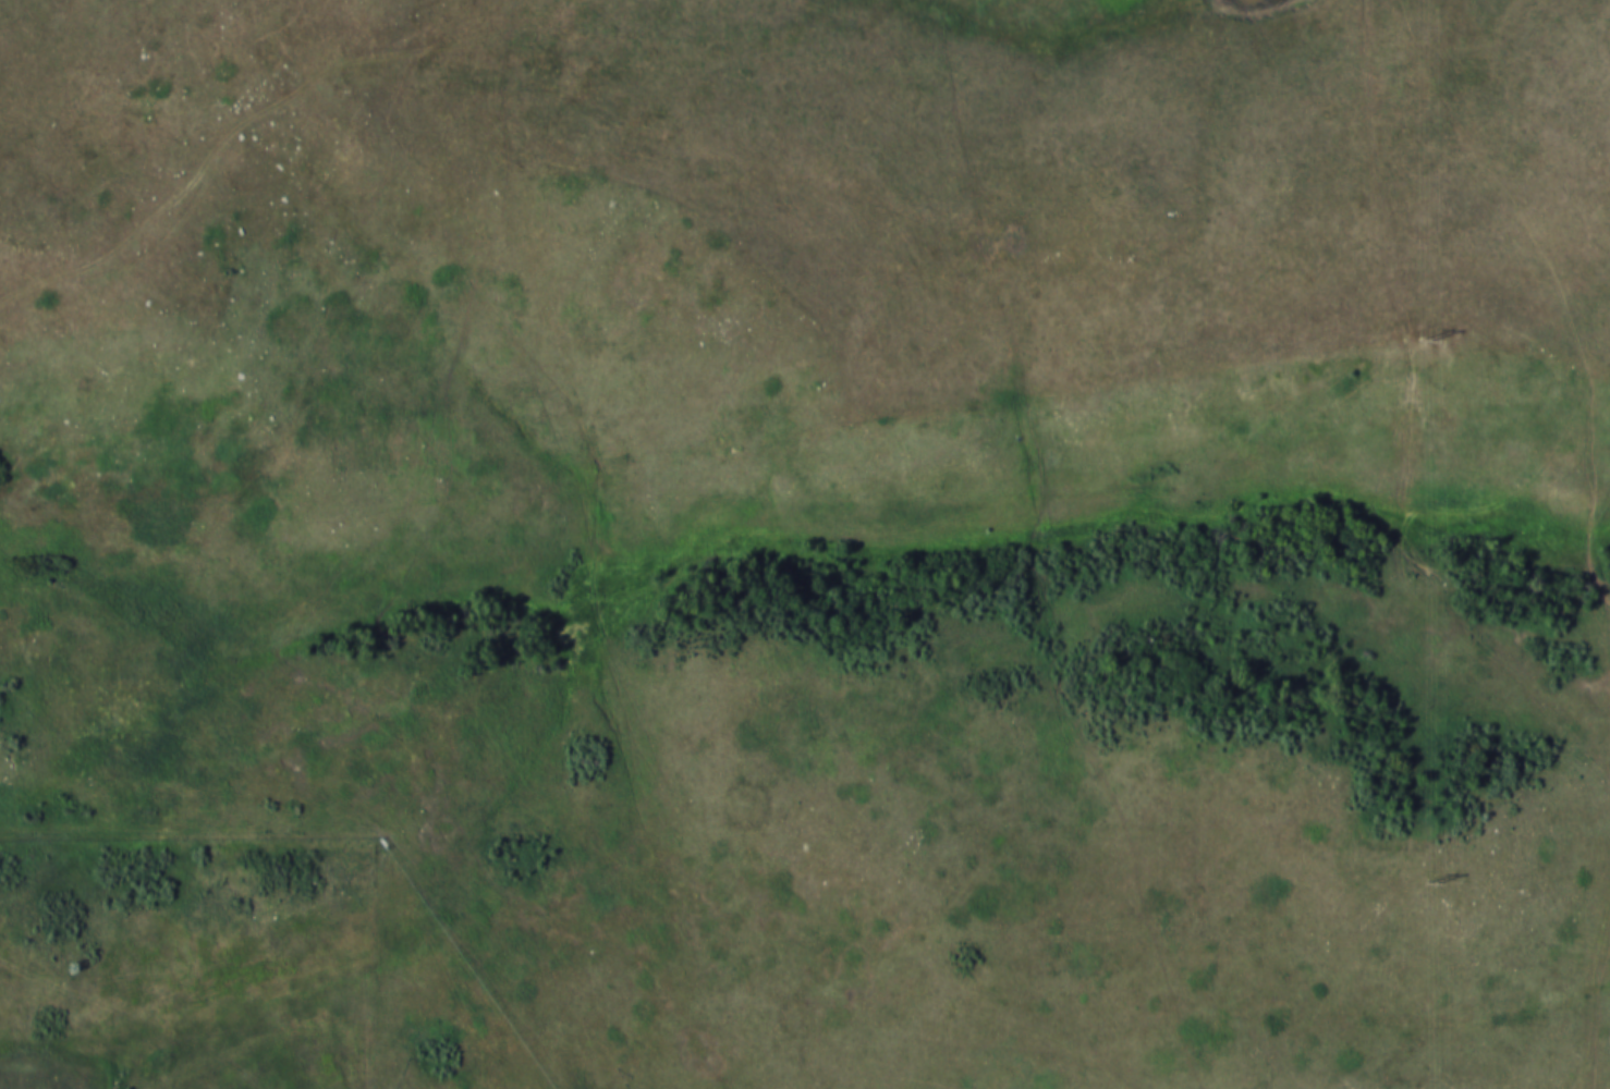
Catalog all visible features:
power tower: (1436, 342)
power tower: (1440, 886)

